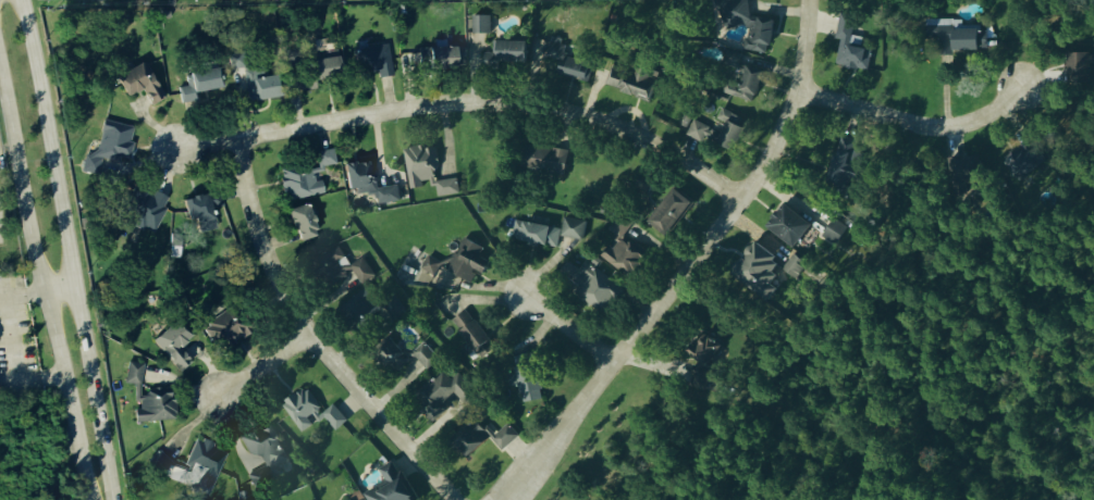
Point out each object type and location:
building: (97, 0)
building: (170, 3)
building: (164, 14)
building: (748, 25)
building: (480, 26)
building: (955, 39)
building: (323, 45)
building: (850, 48)
building: (507, 54)
building: (323, 55)
building: (459, 59)
building: (437, 60)
building: (372, 62)
building: (566, 67)
building: (324, 70)
building: (1079, 71)
building: (630, 84)
building: (750, 84)
building: (140, 85)
building: (198, 86)
building: (259, 86)
road: (467, 102)
road: (912, 124)
building: (733, 129)
building: (110, 147)
building: (552, 162)
building: (1023, 163)
building: (844, 166)
building: (427, 173)
building: (305, 178)
building: (968, 179)
building: (368, 185)
building: (205, 212)
building: (146, 214)
building: (669, 214)
building: (302, 225)
building: (788, 228)
building: (573, 230)
building: (833, 234)
building: (534, 236)
road: (70, 249)
building: (626, 259)
road: (688, 263)
building: (458, 264)
building: (794, 268)
building: (361, 273)
building: (757, 274)
building: (333, 275)
road: (42, 283)
building: (592, 287)
road: (39, 292)
road: (566, 329)
building: (221, 330)
building: (471, 334)
road: (309, 338)
building: (173, 347)
building: (400, 358)
building: (426, 358)
building: (703, 358)
road: (14, 360)
road: (261, 365)
building: (134, 374)
park: (893, 395)
building: (442, 396)
building: (156, 408)
building: (310, 413)
building: (483, 438)
park: (26, 450)
building: (260, 457)
building: (190, 467)
building: (391, 486)

